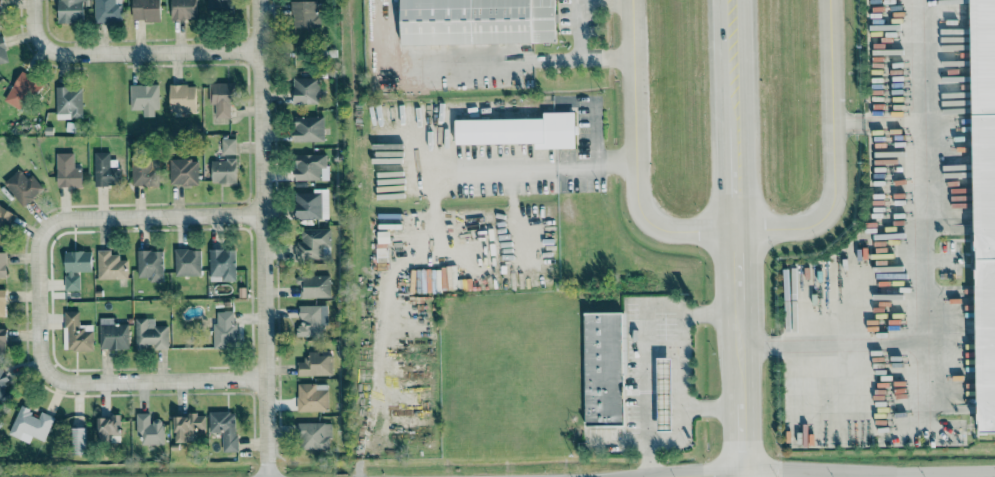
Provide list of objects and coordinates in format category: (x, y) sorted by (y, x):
road: (577, 2)
building: (219, 5)
building: (183, 9)
building: (71, 10)
building: (108, 10)
building: (145, 10)
building: (305, 14)
building: (0, 21)
building: (477, 21)
road: (37, 37)
road: (163, 49)
building: (2, 51)
road: (608, 58)
road: (447, 63)
road: (734, 64)
building: (22, 88)
building: (144, 98)
building: (182, 98)
building: (221, 99)
building: (69, 102)
road: (876, 121)
building: (308, 128)
building: (519, 130)
building: (228, 145)
building: (309, 166)
road: (534, 168)
building: (105, 170)
building: (223, 170)
building: (67, 171)
building: (144, 171)
building: (183, 171)
road: (737, 179)
building: (23, 186)
building: (984, 200)
building: (311, 204)
building: (5, 219)
road: (109, 219)
road: (734, 230)
road: (262, 238)
building: (313, 244)
building: (187, 261)
road: (920, 261)
building: (2, 264)
building: (150, 264)
building: (222, 264)
building: (111, 265)
building: (76, 267)
road: (739, 273)
building: (314, 286)
building: (2, 302)
building: (312, 319)
building: (224, 330)
building: (78, 332)
building: (150, 334)
building: (113, 336)
building: (3, 341)
road: (647, 347)
road: (740, 353)
building: (315, 364)
building: (603, 369)
road: (123, 383)
building: (3, 386)
road: (682, 388)
building: (663, 394)
building: (312, 396)
building: (30, 424)
road: (875, 424)
building: (188, 426)
building: (107, 427)
building: (150, 428)
building: (224, 428)
road: (742, 431)
building: (315, 435)
road: (676, 435)
building: (78, 440)
road: (793, 472)
road: (744, 475)

